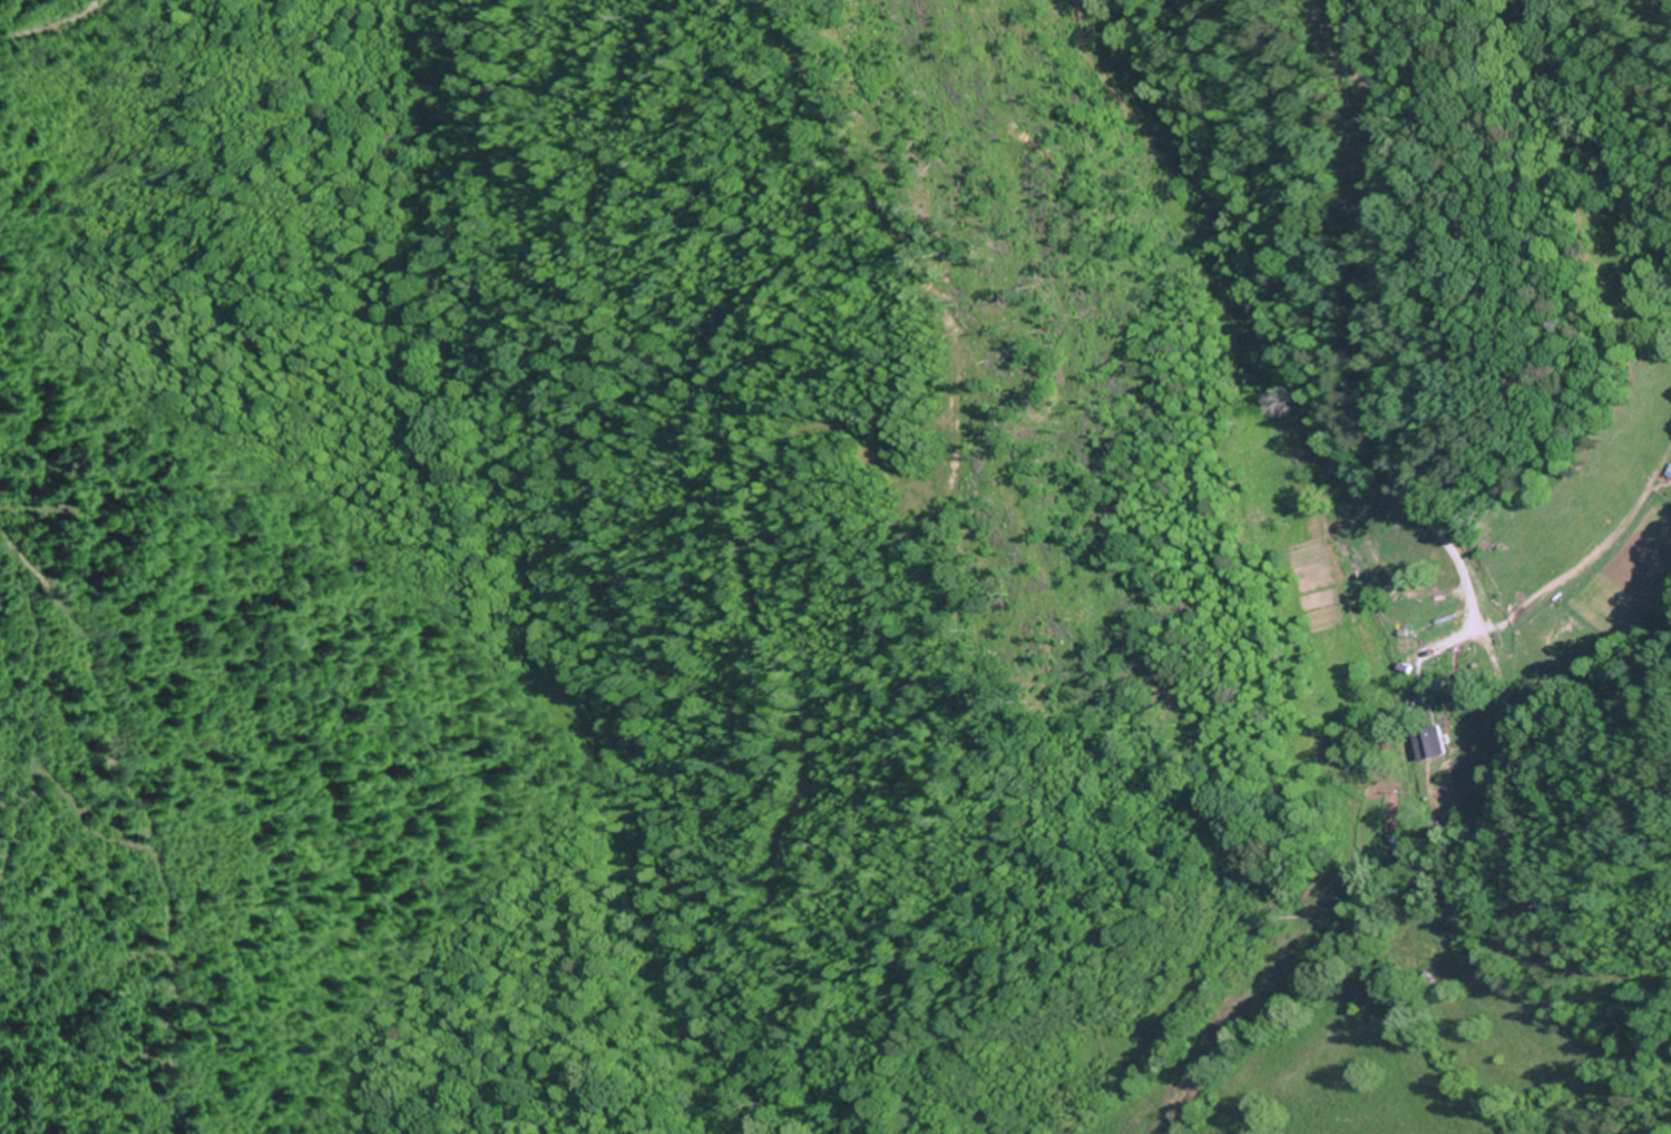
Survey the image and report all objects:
building: (1407, 594)

